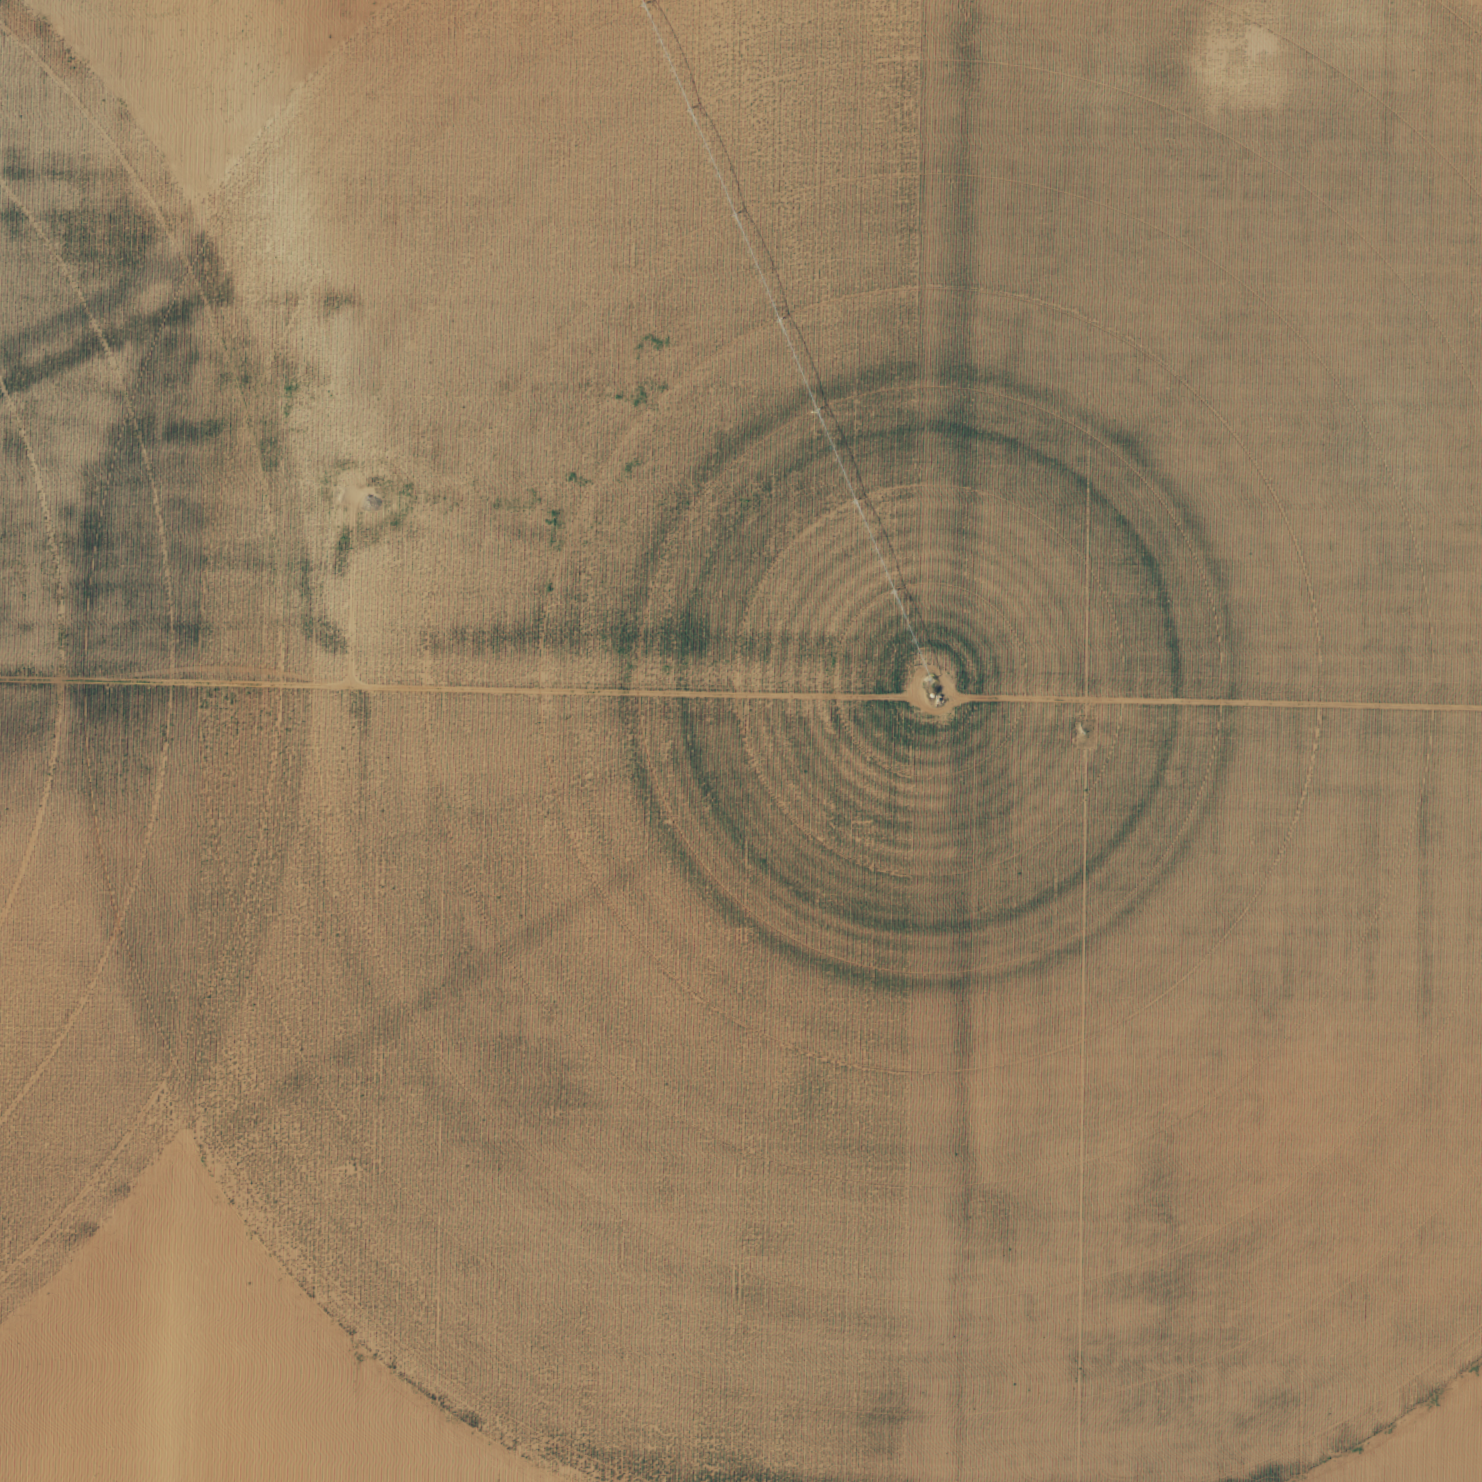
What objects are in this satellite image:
road: (1156, 362)
road: (399, 531)
road: (740, 738)
road: (178, 741)
road: (978, 741)

